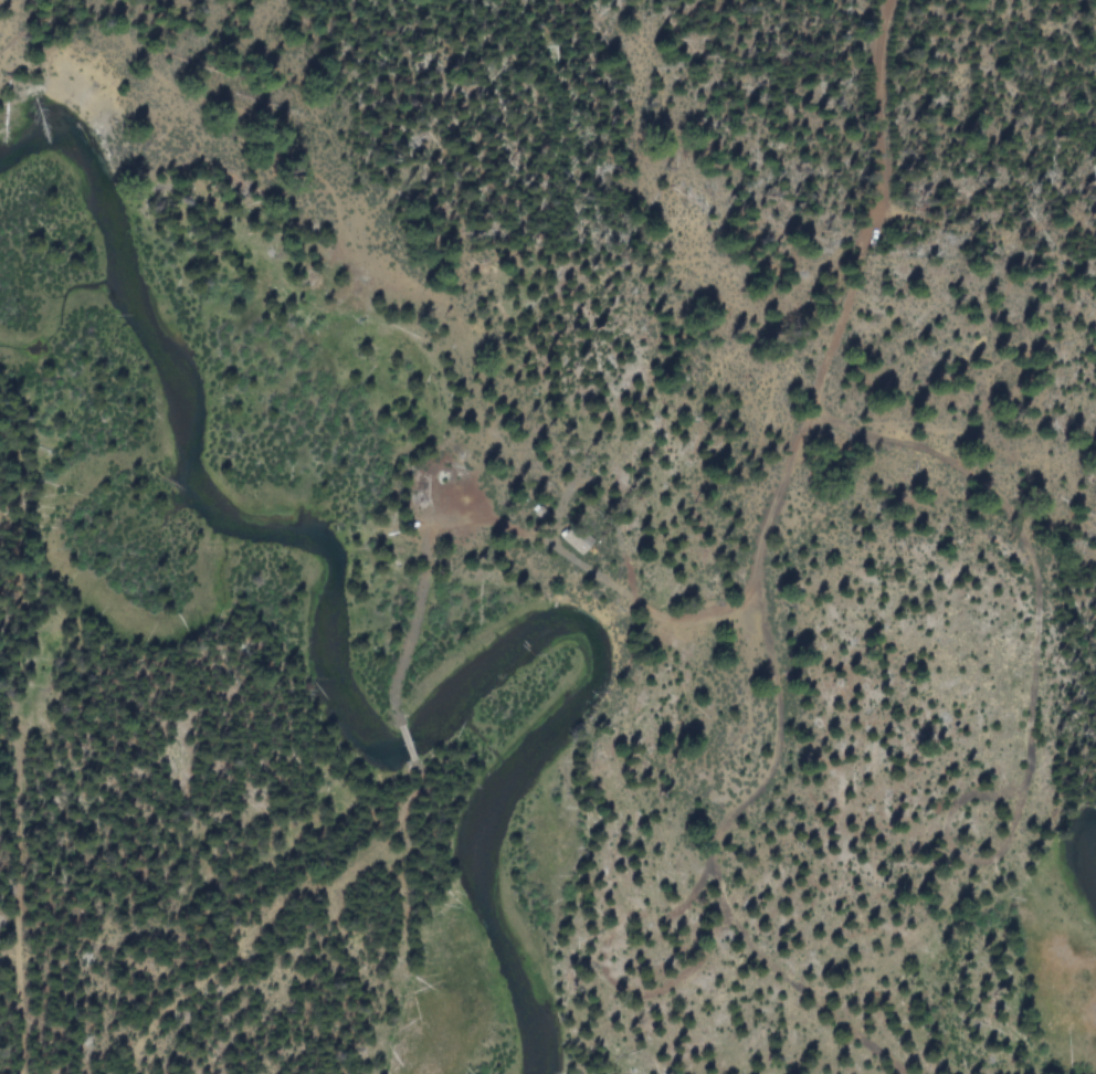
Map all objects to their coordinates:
road: (791, 352)
river: (326, 705)

